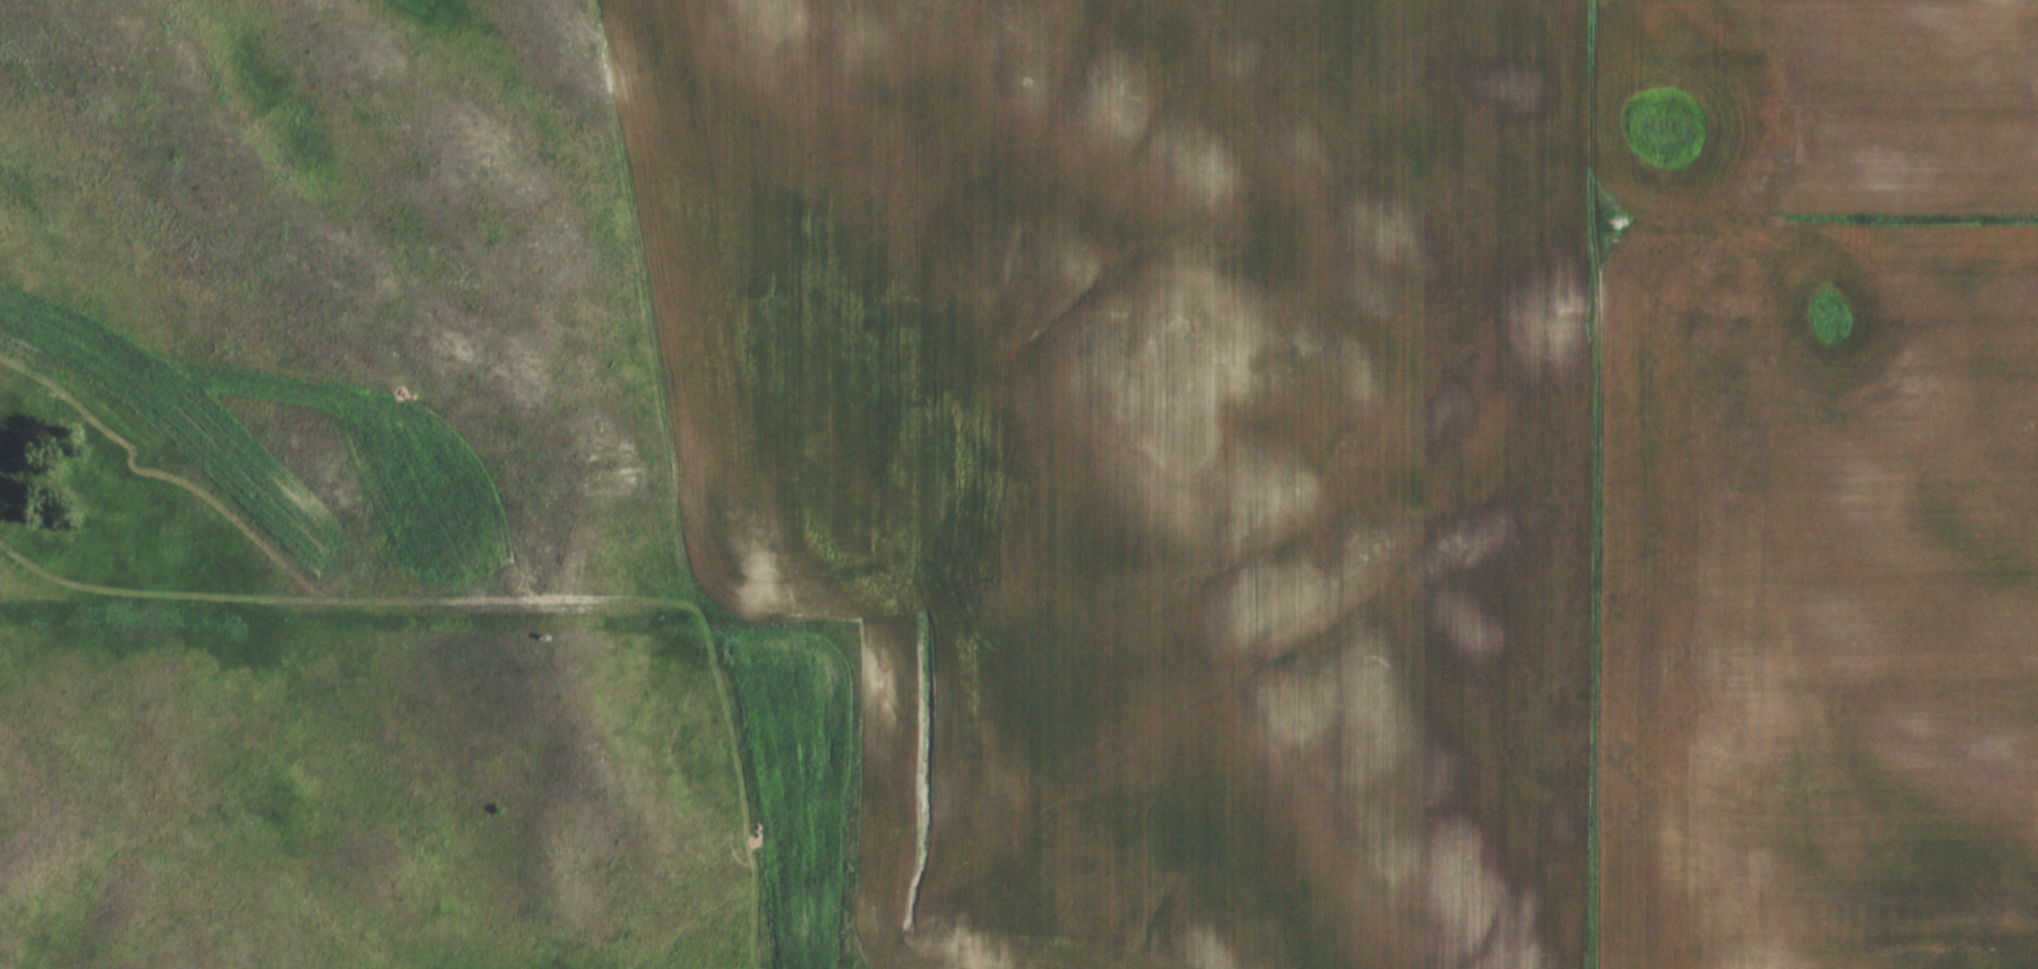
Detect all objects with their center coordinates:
road: (1579, 484)

